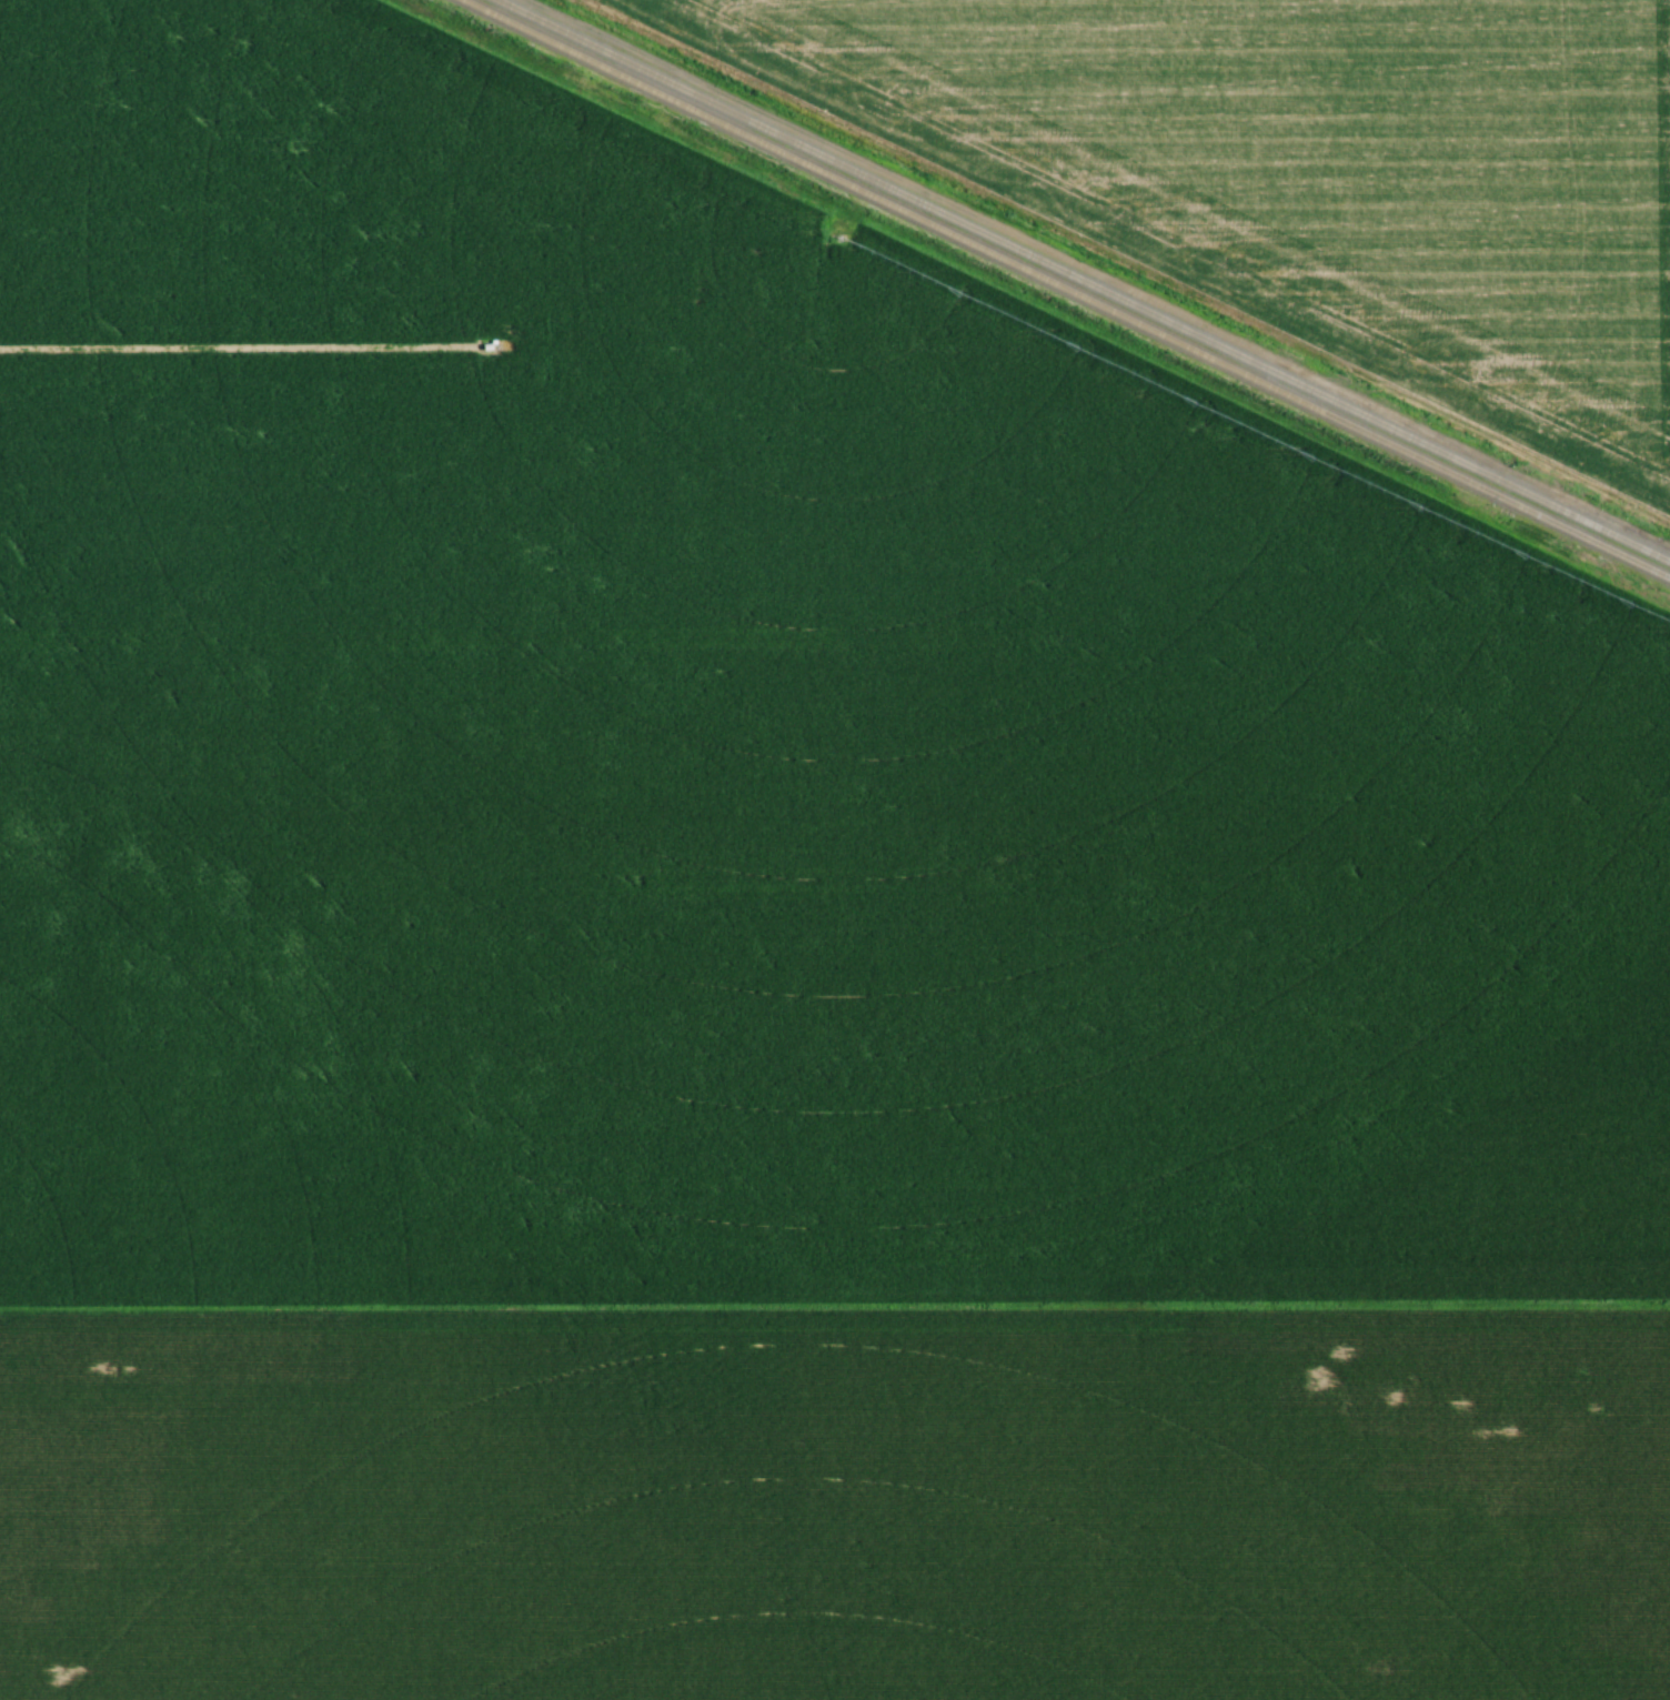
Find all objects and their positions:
crop: (1314, 169)
railway: (1086, 278)
railway: (1064, 289)
crop: (738, 760)

